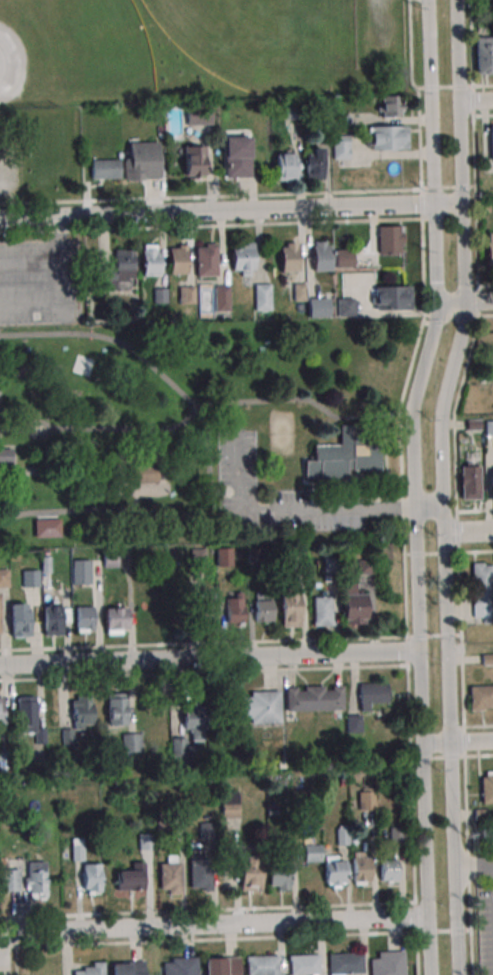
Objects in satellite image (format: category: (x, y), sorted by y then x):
parking lot: (379, 25)
park: (251, 41)
park: (72, 47)
road: (427, 52)
building: (483, 54)
road: (482, 85)
road: (443, 86)
road: (475, 99)
road: (459, 100)
building: (389, 106)
building: (259, 107)
building: (291, 110)
road: (483, 115)
building: (199, 116)
building: (340, 120)
building: (387, 137)
building: (491, 141)
building: (340, 147)
road: (431, 153)
building: (237, 157)
building: (194, 160)
building: (141, 162)
building: (313, 163)
building: (285, 166)
building: (105, 169)
parking lot: (10, 171)
road: (447, 202)
park: (41, 209)
road: (215, 210)
building: (389, 238)
building: (489, 249)
road: (464, 252)
road: (434, 254)
building: (320, 256)
building: (288, 257)
road: (28, 258)
building: (242, 258)
building: (344, 258)
building: (150, 260)
building: (178, 260)
building: (206, 260)
building: (117, 269)
parking lot: (41, 278)
road: (485, 285)
road: (56, 287)
building: (298, 291)
building: (186, 294)
building: (160, 295)
building: (262, 296)
building: (221, 297)
building: (392, 298)
road: (464, 303)
building: (319, 307)
building: (345, 307)
road: (485, 315)
road: (109, 339)
park: (24, 353)
road: (412, 403)
road: (442, 414)
building: (472, 424)
road: (377, 427)
building: (489, 427)
road: (102, 429)
park: (282, 433)
building: (343, 455)
building: (8, 456)
road: (385, 456)
road: (209, 457)
building: (141, 473)
road: (386, 475)
building: (468, 482)
building: (491, 483)
road: (401, 485)
road: (455, 486)
road: (136, 496)
parking lot: (281, 497)
road: (376, 499)
road: (338, 500)
road: (429, 504)
road: (291, 509)
road: (474, 511)
road: (38, 516)
building: (47, 528)
road: (469, 528)
road: (475, 552)
road: (431, 553)
building: (252, 554)
building: (223, 556)
building: (198, 557)
building: (110, 559)
building: (44, 564)
building: (330, 564)
building: (364, 566)
building: (82, 571)
building: (4, 578)
building: (30, 578)
building: (481, 590)
building: (289, 607)
building: (352, 609)
building: (263, 610)
building: (234, 611)
building: (321, 611)
building: (205, 615)
building: (84, 617)
building: (52, 618)
building: (18, 619)
building: (114, 619)
road: (417, 623)
road: (448, 634)
road: (433, 636)
road: (203, 643)
road: (209, 656)
building: (487, 659)
road: (203, 672)
building: (372, 694)
building: (314, 698)
building: (480, 698)
building: (258, 707)
building: (116, 708)
building: (81, 711)
building: (1, 716)
building: (28, 719)
building: (196, 720)
building: (354, 724)
road: (478, 726)
building: (66, 736)
road: (457, 740)
building: (131, 742)
building: (178, 748)
road: (479, 755)
road: (437, 757)
building: (487, 787)
building: (367, 800)
building: (230, 804)
building: (482, 814)
road: (425, 828)
building: (208, 830)
building: (397, 834)
building: (77, 849)
building: (312, 852)
road: (454, 857)
road: (474, 866)
building: (388, 869)
building: (361, 870)
building: (200, 871)
building: (334, 872)
building: (250, 873)
building: (279, 874)
building: (170, 878)
building: (91, 879)
building: (11, 880)
building: (36, 880)
building: (129, 880)
road: (206, 910)
road: (213, 922)
road: (443, 931)
road: (202, 940)
road: (428, 944)
road: (2, 949)
building: (388, 963)
building: (303, 964)
building: (345, 964)
building: (261, 965)
building: (180, 966)
building: (221, 966)
building: (128, 968)
building: (90, 970)

